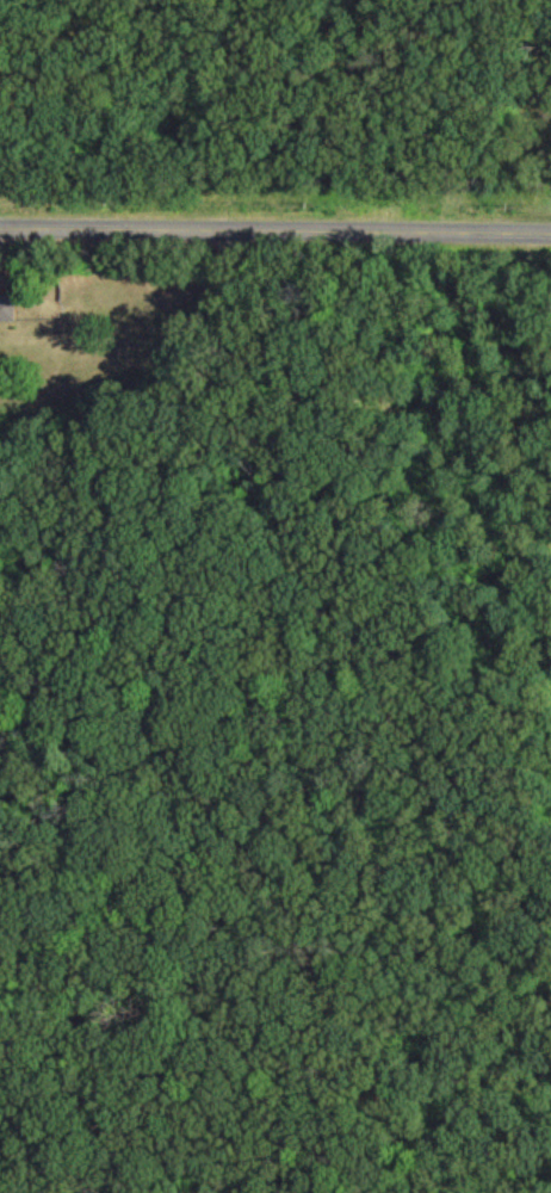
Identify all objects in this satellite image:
road: (275, 228)
building: (12, 305)

